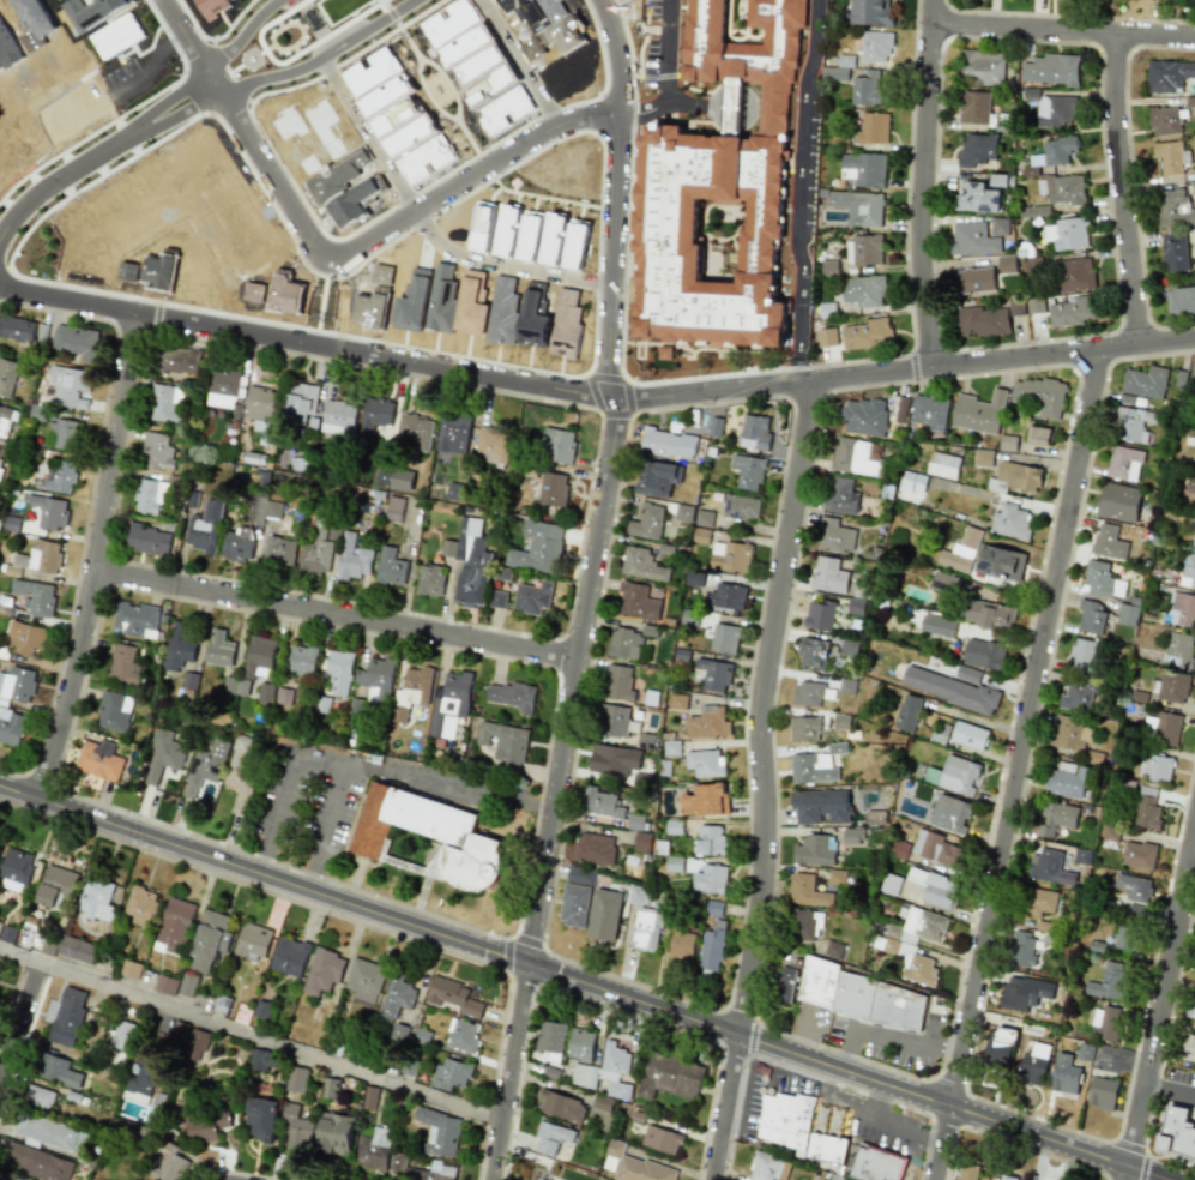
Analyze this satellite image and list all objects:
building: (871, 12)
road: (1062, 30)
road: (242, 35)
building: (116, 36)
building: (876, 47)
road: (670, 50)
road: (325, 58)
road: (515, 64)
building: (982, 66)
building: (840, 68)
building: (1051, 70)
building: (1169, 76)
building: (868, 89)
road: (689, 103)
building: (974, 107)
road: (645, 109)
building: (1056, 112)
building: (1164, 121)
building: (874, 128)
road: (367, 137)
building: (977, 149)
road: (99, 152)
building: (1170, 157)
building: (864, 169)
road: (923, 183)
building: (1194, 185)
road: (1122, 188)
road: (802, 189)
building: (1062, 189)
road: (617, 195)
building: (977, 198)
building: (861, 207)
building: (1173, 209)
building: (1036, 210)
building: (1000, 227)
building: (1067, 234)
building: (973, 240)
building: (864, 249)
building: (1173, 252)
road: (338, 257)
building: (1007, 264)
road: (502, 270)
building: (1076, 275)
building: (974, 279)
building: (864, 290)
building: (1181, 300)
building: (1034, 305)
building: (1015, 306)
building: (1073, 311)
building: (983, 321)
building: (17, 329)
building: (868, 333)
building: (827, 337)
building: (74, 341)
building: (179, 360)
building: (1193, 375)
building: (7, 377)
building: (1145, 381)
building: (223, 389)
road: (593, 395)
building: (1038, 395)
building: (301, 402)
building: (165, 404)
building: (900, 408)
building: (929, 411)
building: (979, 413)
building: (549, 414)
building: (375, 415)
building: (864, 416)
building: (338, 417)
building: (4, 421)
building: (1133, 423)
building: (415, 432)
building: (453, 432)
building: (754, 433)
building: (64, 435)
building: (1038, 435)
building: (668, 442)
building: (491, 445)
building: (557, 445)
building: (158, 450)
building: (853, 457)
building: (983, 457)
building: (1124, 463)
building: (0, 464)
building: (943, 465)
building: (384, 469)
building: (748, 471)
building: (60, 477)
building: (1016, 477)
building: (657, 478)
building: (40, 482)
building: (912, 482)
building: (553, 489)
building: (454, 490)
building: (1188, 490)
building: (150, 495)
building: (840, 496)
building: (1118, 502)
building: (741, 507)
building: (394, 508)
building: (262, 510)
building: (49, 511)
building: (704, 518)
building: (646, 522)
building: (1010, 522)
building: (11, 524)
building: (205, 528)
building: (700, 535)
building: (835, 536)
building: (149, 540)
building: (1194, 540)
building: (1109, 542)
building: (237, 543)
building: (966, 546)
building: (538, 548)
building: (316, 549)
building: (278, 550)
building: (731, 556)
building: (40, 558)
road: (99, 558)
building: (352, 558)
building: (469, 561)
building: (1000, 561)
building: (641, 565)
building: (390, 567)
building: (1188, 571)
building: (829, 576)
building: (430, 579)
building: (1100, 580)
building: (34, 596)
building: (532, 597)
building: (497, 598)
building: (726, 598)
building: (638, 602)
building: (855, 607)
building: (1182, 609)
road: (337, 614)
building: (989, 614)
building: (1127, 614)
building: (819, 615)
building: (1091, 616)
building: (135, 619)
building: (937, 625)
building: (25, 638)
building: (724, 638)
building: (624, 643)
building: (180, 644)
building: (218, 649)
building: (1178, 650)
building: (811, 654)
building: (984, 654)
building: (1082, 655)
building: (258, 657)
building: (302, 660)
building: (122, 664)
building: (339, 672)
building: (713, 674)
building: (967, 674)
building: (376, 676)
building: (189, 680)
building: (618, 682)
building: (16, 685)
building: (1172, 687)
building: (949, 690)
building: (411, 692)
building: (265, 694)
building: (808, 694)
building: (1078, 694)
building: (283, 696)
building: (512, 696)
building: (678, 700)
building: (449, 705)
building: (114, 710)
building: (907, 712)
building: (612, 721)
building: (840, 721)
building: (707, 723)
building: (10, 728)
building: (804, 728)
building: (1163, 728)
building: (1070, 733)
building: (968, 735)
building: (503, 741)
building: (646, 741)
building: (671, 748)
building: (162, 754)
building: (98, 759)
building: (614, 759)
road: (318, 761)
building: (705, 763)
road: (1020, 764)
building: (204, 766)
building: (1155, 767)
building: (813, 769)
building: (240, 772)
building: (958, 776)
road: (765, 779)
building: (1069, 779)
road: (434, 785)
road: (553, 788)
building: (1147, 791)
building: (705, 800)
building: (600, 803)
road: (538, 805)
building: (821, 806)
building: (1147, 812)
building: (949, 814)
building: (875, 817)
building: (1056, 818)
building: (635, 821)
road: (723, 823)
building: (674, 826)
building: (1110, 832)
building: (429, 835)
building: (852, 836)
building: (710, 841)
building: (641, 842)
building: (0, 848)
building: (593, 848)
building: (936, 849)
building: (815, 850)
building: (900, 850)
building: (1139, 855)
road: (255, 861)
building: (674, 863)
building: (1051, 867)
building: (16, 869)
building: (580, 875)
building: (835, 877)
road: (306, 879)
building: (710, 879)
building: (889, 884)
building: (55, 885)
building: (935, 887)
building: (1134, 887)
building: (807, 891)
building: (97, 901)
building: (1039, 902)
building: (573, 904)
building: (140, 905)
building: (713, 908)
building: (604, 914)
building: (805, 923)
building: (174, 927)
building: (645, 929)
building: (1127, 937)
building: (209, 940)
building: (252, 941)
building: (681, 944)
building: (712, 946)
building: (905, 947)
building: (77, 949)
building: (833, 949)
building: (1022, 950)
building: (289, 956)
building: (131, 969)
building: (322, 971)
building: (364, 981)
building: (1108, 981)
road: (584, 982)
building: (167, 985)
building: (187, 985)
building: (785, 985)
building: (1015, 994)
building: (858, 995)
building: (453, 997)
building: (396, 998)
road: (1158, 999)
building: (1190, 1006)
building: (68, 1017)
road: (19, 1018)
building: (1106, 1023)
road: (248, 1032)
building: (398, 1032)
building: (120, 1034)
building: (463, 1036)
building: (551, 1036)
road: (888, 1037)
road: (804, 1038)
building: (195, 1044)
building: (580, 1044)
building: (998, 1046)
building: (1188, 1048)
building: (262, 1060)
building: (1034, 1062)
building: (614, 1070)
building: (59, 1071)
building: (1064, 1072)
building: (451, 1074)
building: (584, 1076)
building: (670, 1077)
building: (296, 1079)
building: (141, 1080)
road: (1169, 1085)
building: (330, 1089)
building: (1100, 1092)
building: (41, 1097)
building: (369, 1097)
building: (602, 1103)
building: (562, 1107)
road: (849, 1110)
building: (261, 1118)
building: (203, 1119)
building: (786, 1121)
road: (909, 1130)
building: (296, 1131)
building: (50, 1132)
building: (440, 1132)
building: (336, 1133)
building: (1178, 1133)
building: (551, 1137)
building: (662, 1139)
building: (826, 1148)
building: (374, 1149)
building: (37, 1162)
building: (170, 1164)
building: (876, 1164)
building: (439, 1166)
building: (768, 1167)
building: (641, 1170)
building: (968, 1172)
building: (542, 1173)
building: (0, 1179)
building: (1006, 1179)

